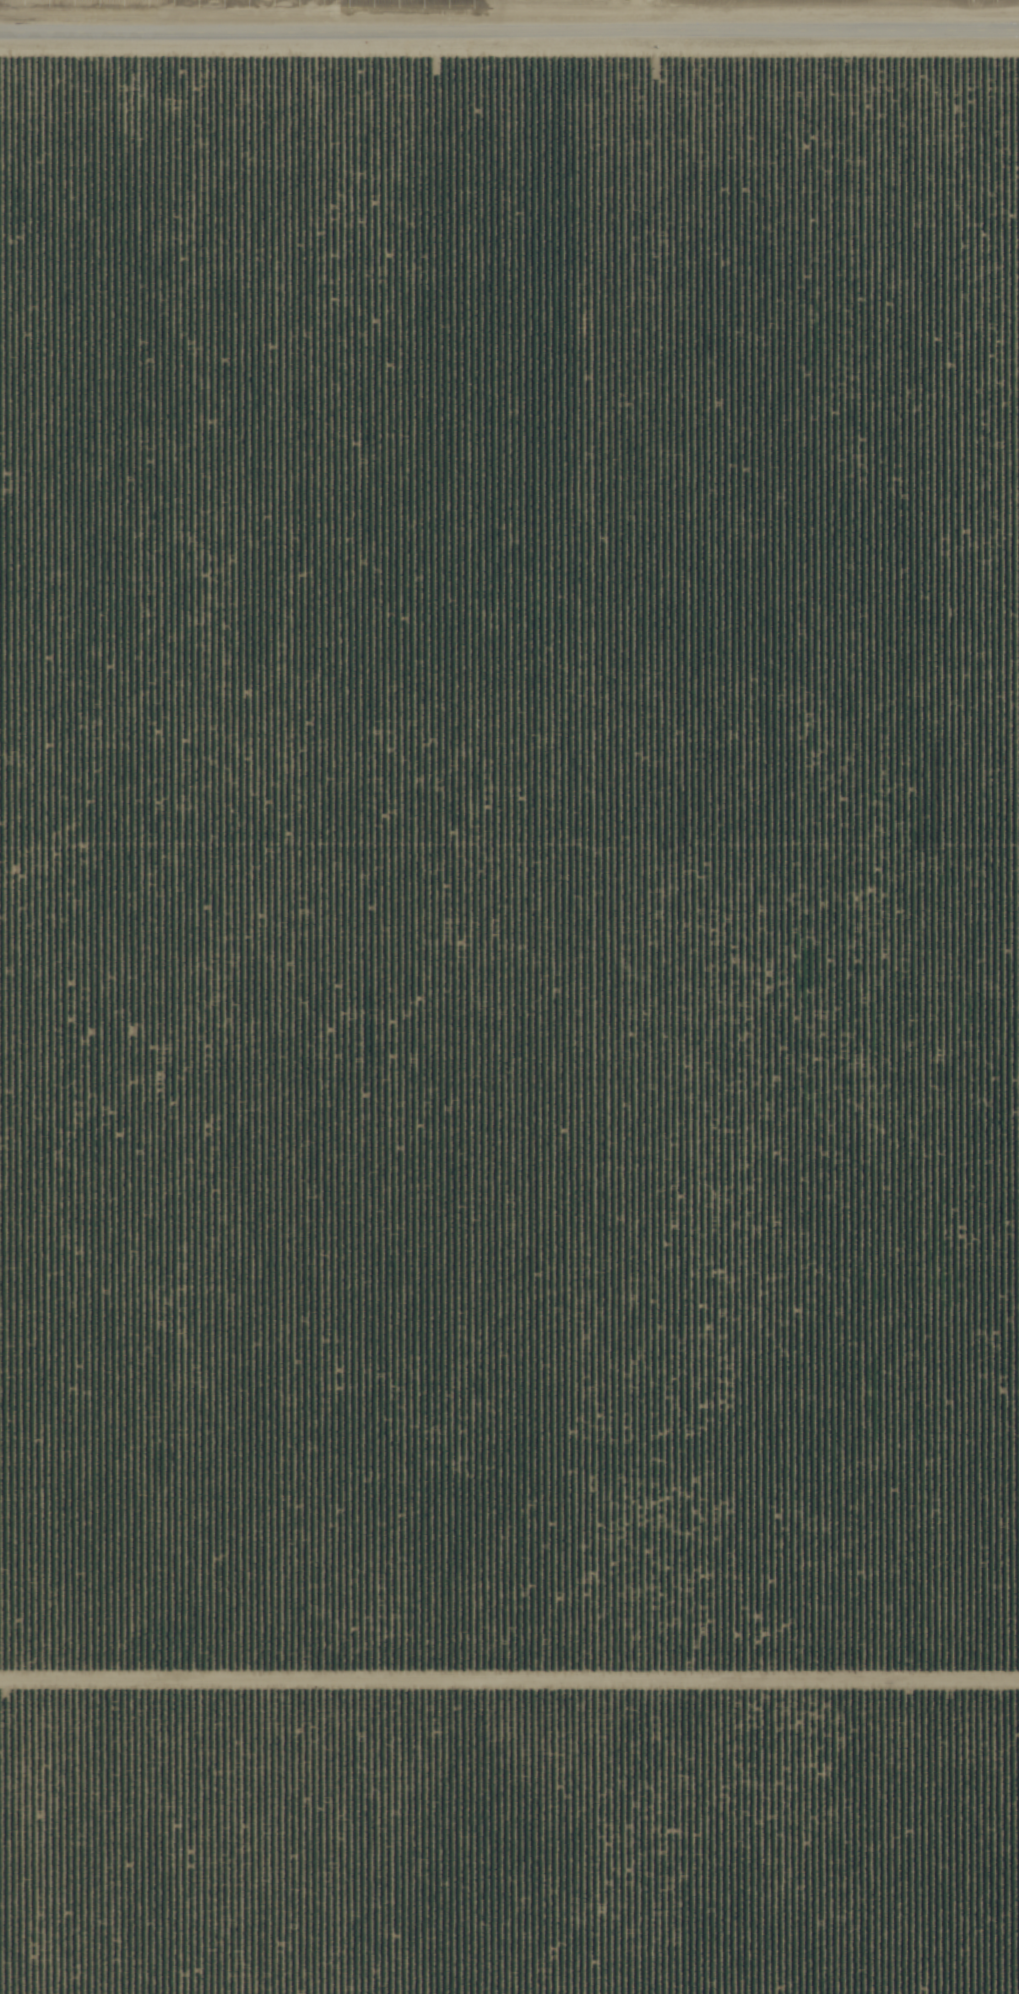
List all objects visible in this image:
road: (509, 33)
crop: (509, 997)
road: (509, 1683)

